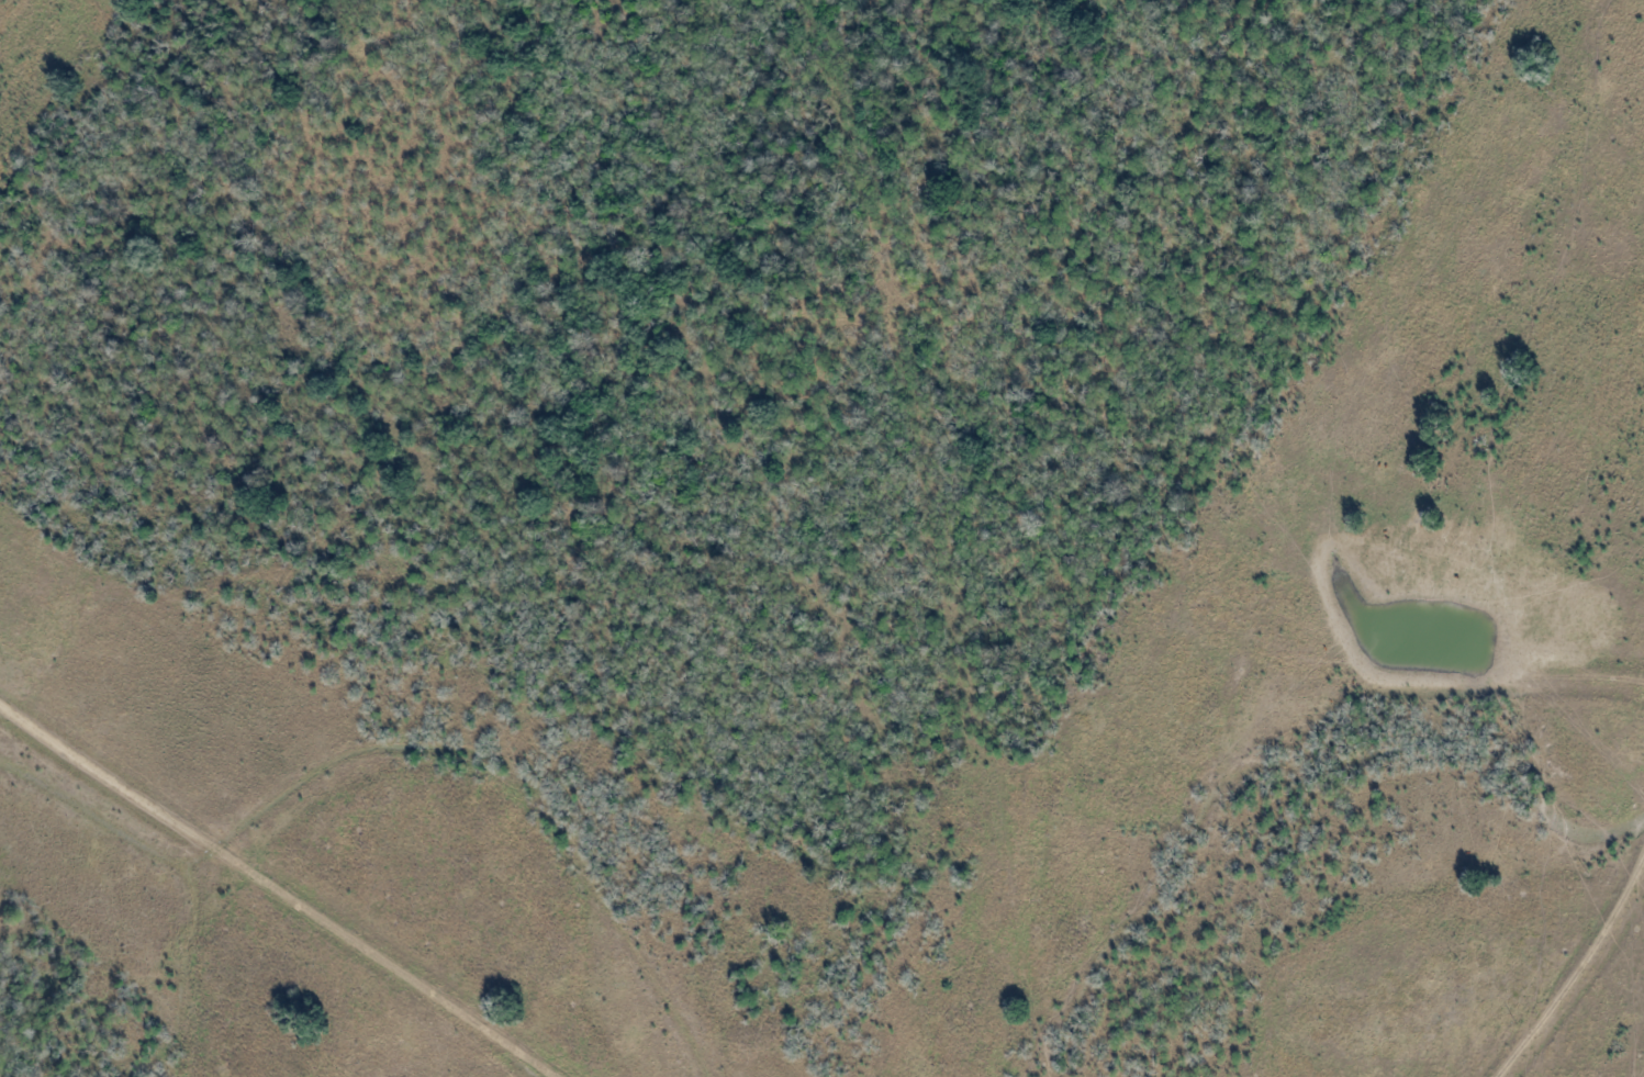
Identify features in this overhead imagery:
road: (1577, 969)

